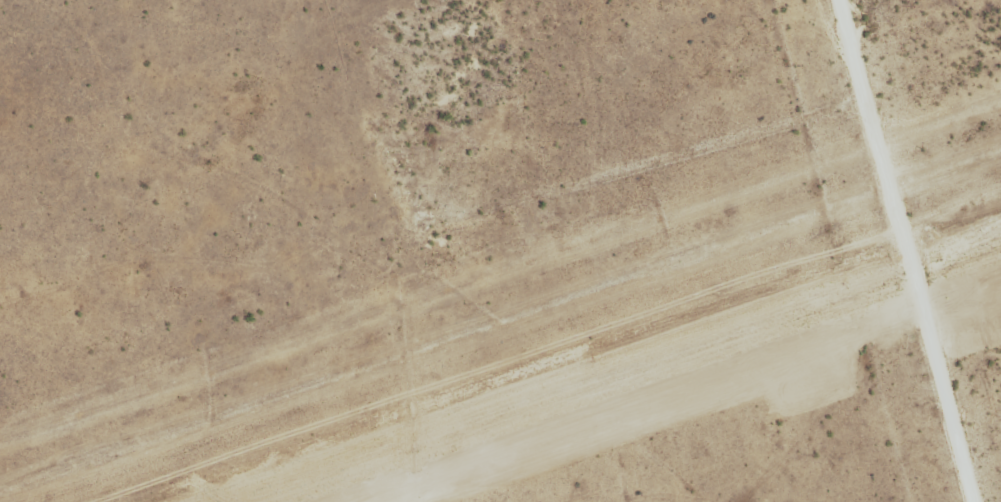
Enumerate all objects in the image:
road: (915, 253)

